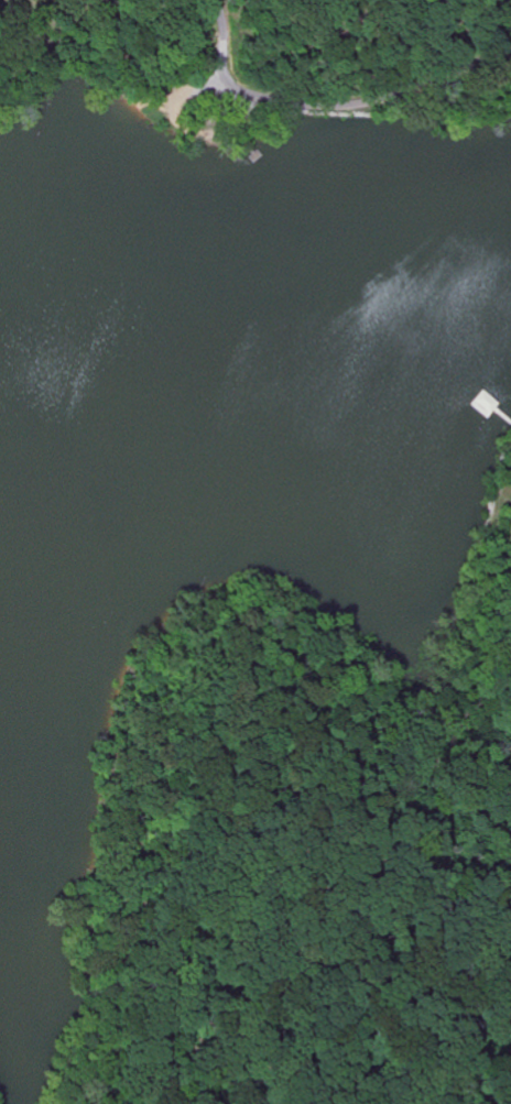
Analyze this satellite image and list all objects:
road: (319, 116)

